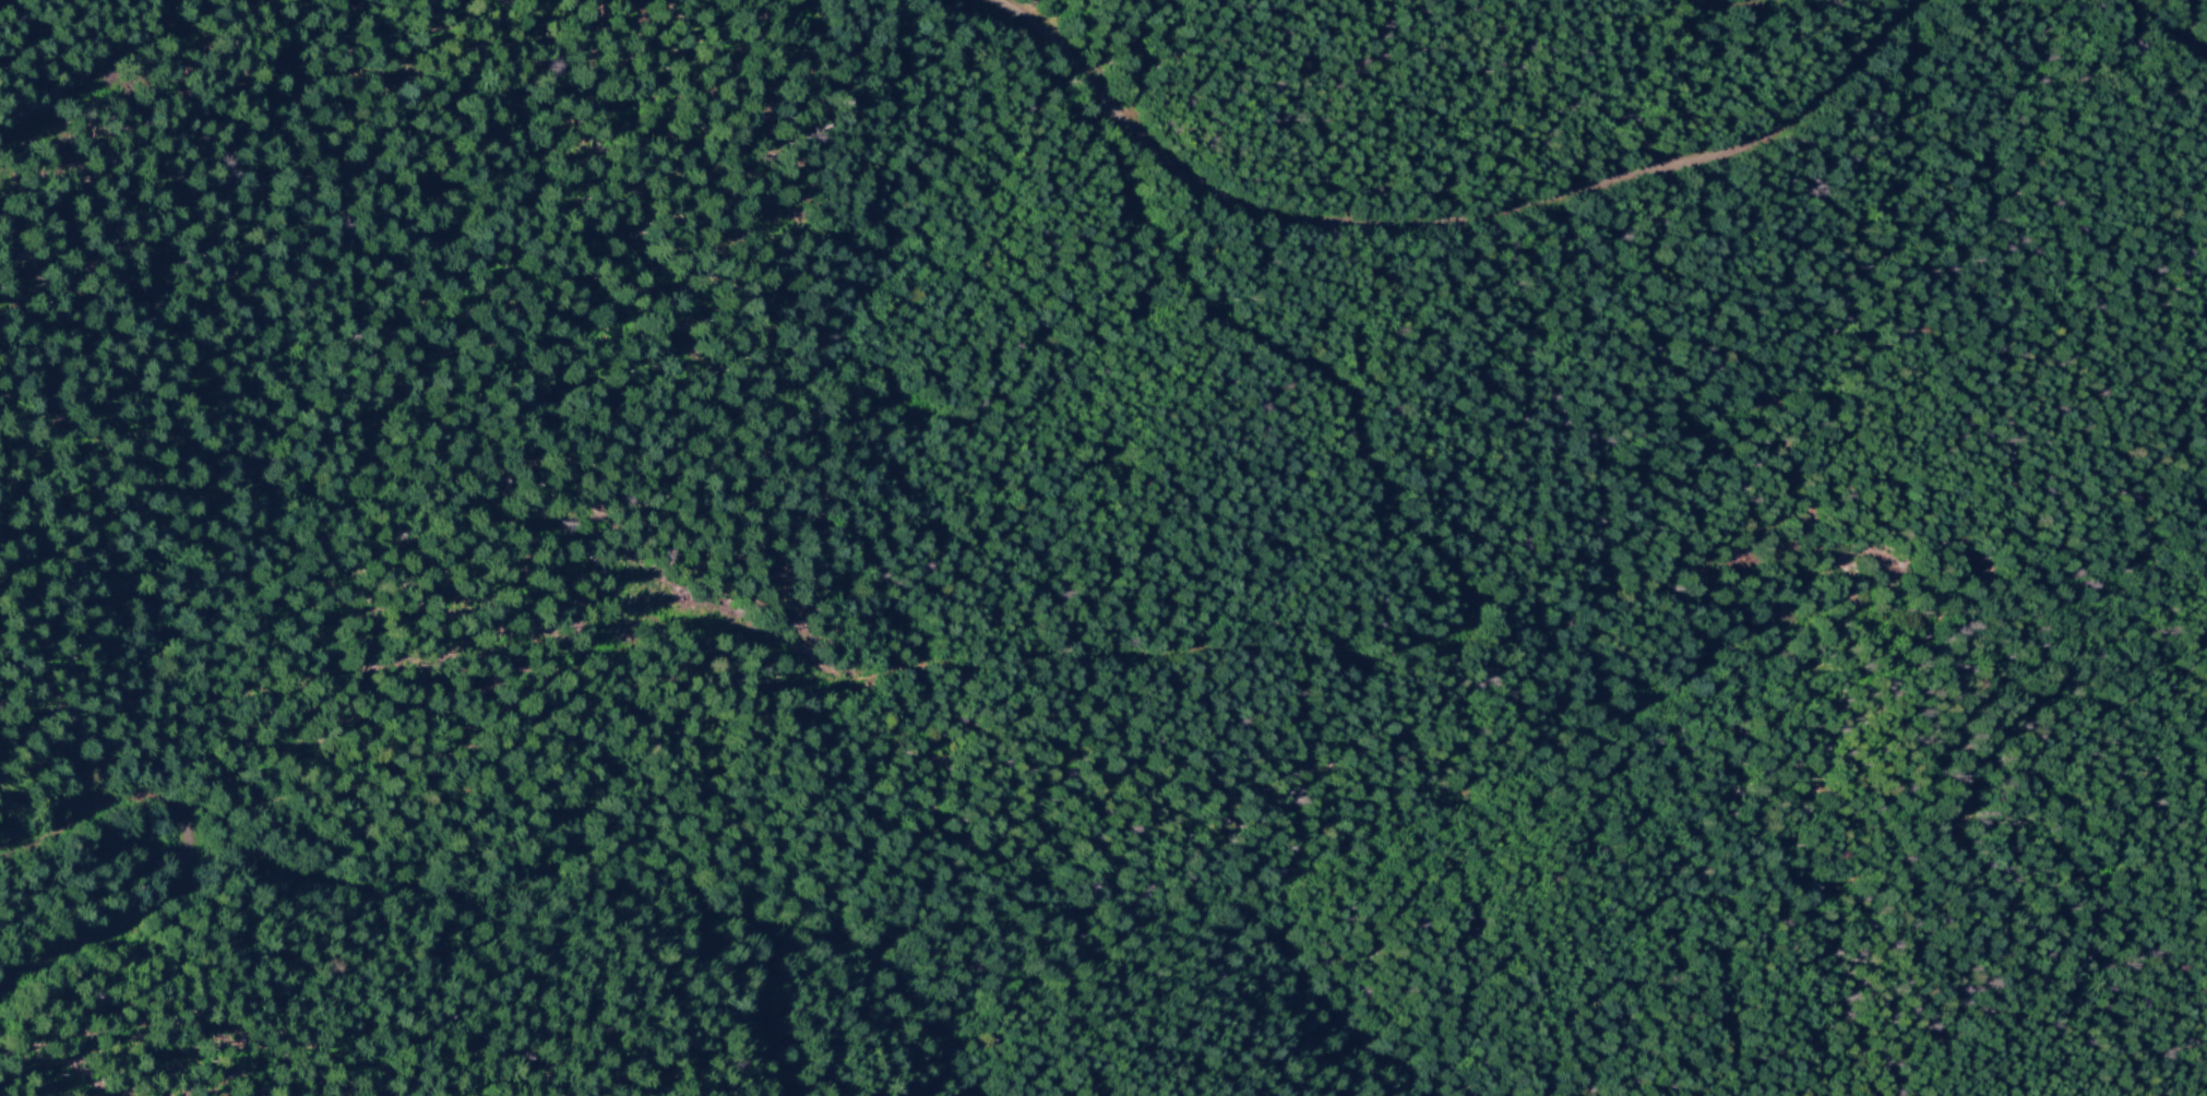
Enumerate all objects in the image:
road: (2172, 84)
road: (109, 86)
road: (1479, 179)
road: (110, 925)

